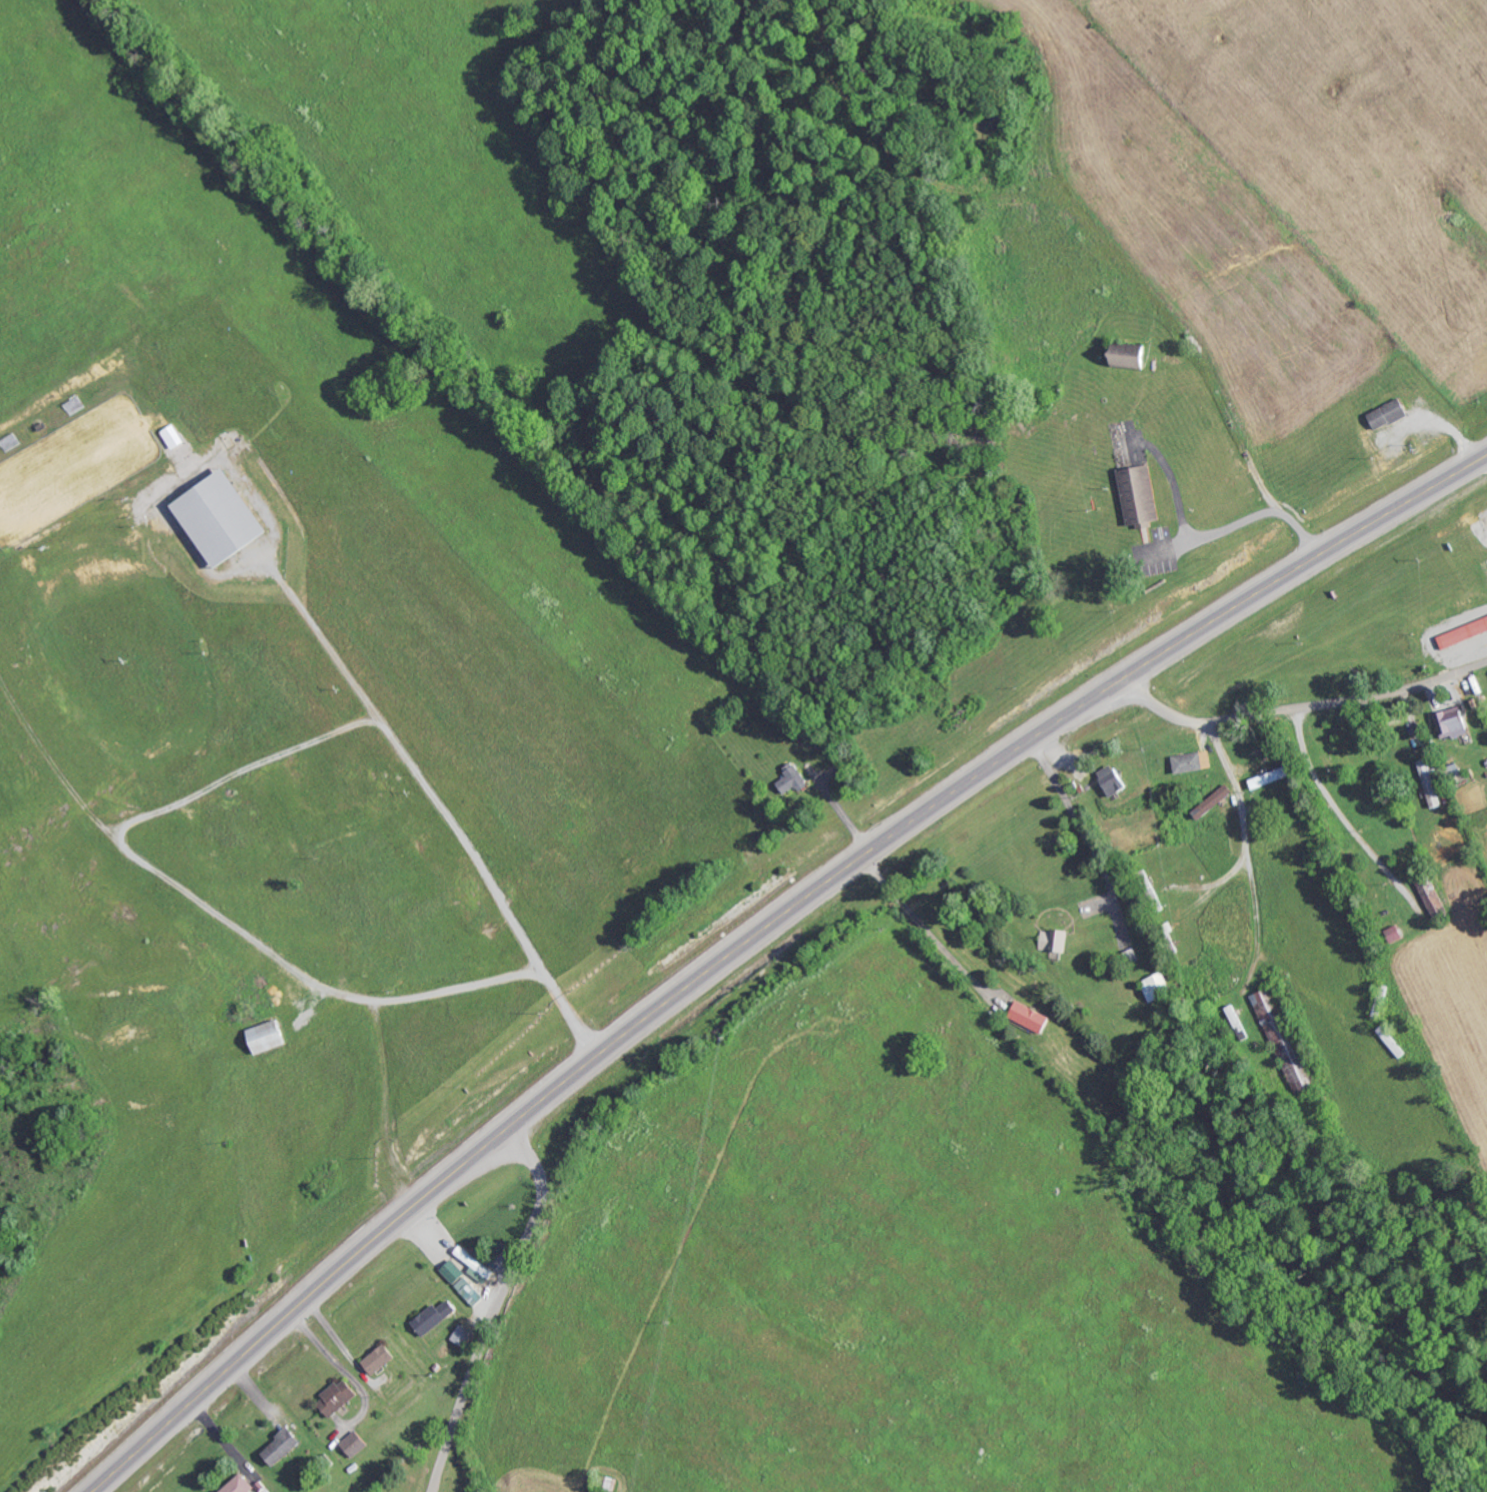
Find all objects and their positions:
road: (962, 328)
building: (1391, 413)
building: (1142, 495)
building: (226, 517)
building: (1464, 633)
road: (1299, 708)
building: (1454, 722)
building: (1195, 761)
building: (1273, 777)
building: (795, 779)
building: (1115, 779)
building: (1430, 783)
building: (1214, 801)
road: (757, 932)
building: (1052, 939)
building: (1156, 986)
building: (1033, 1016)
building: (270, 1036)
building: (476, 1264)
building: (463, 1282)
road: (496, 1307)
building: (436, 1316)
building: (464, 1333)
building: (382, 1358)
building: (340, 1396)
building: (356, 1442)
building: (284, 1445)
building: (240, 1484)

